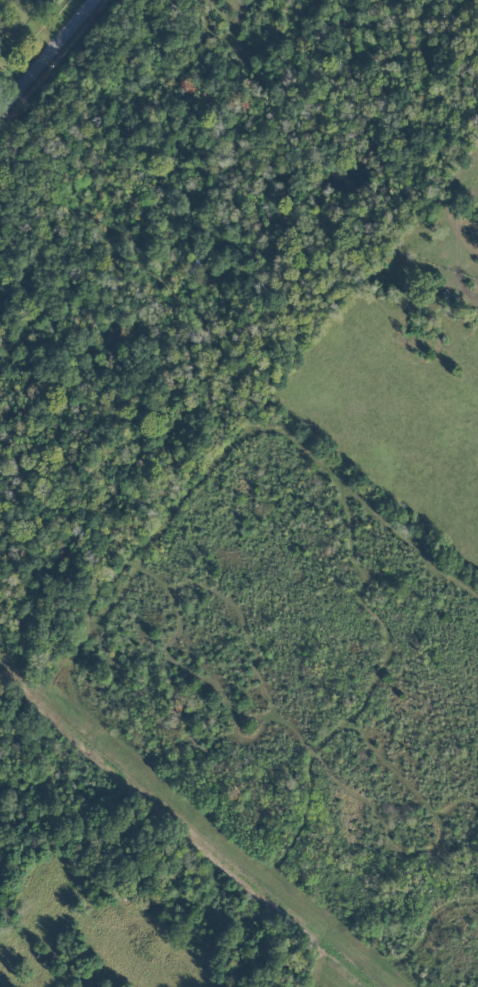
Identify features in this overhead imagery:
road: (48, 58)

